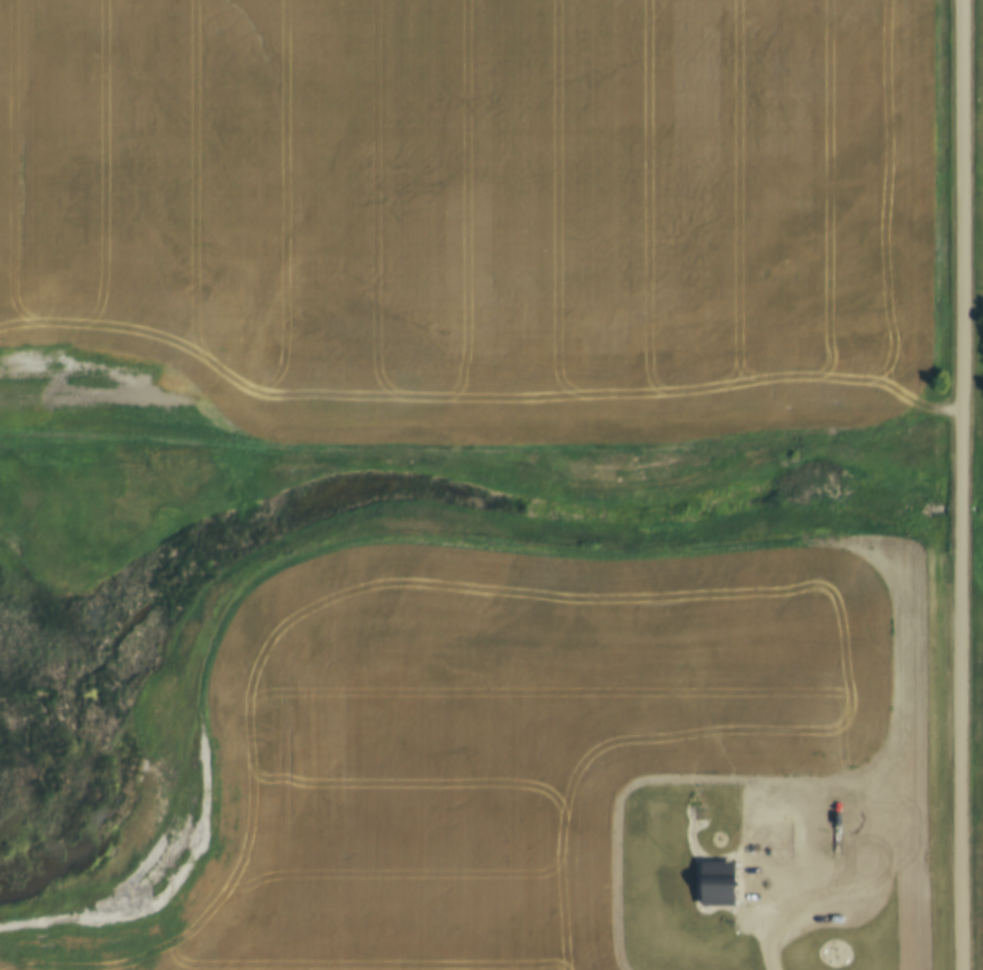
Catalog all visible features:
road: (961, 484)
building: (721, 878)
building: (847, 944)
silo: (847, 944)

